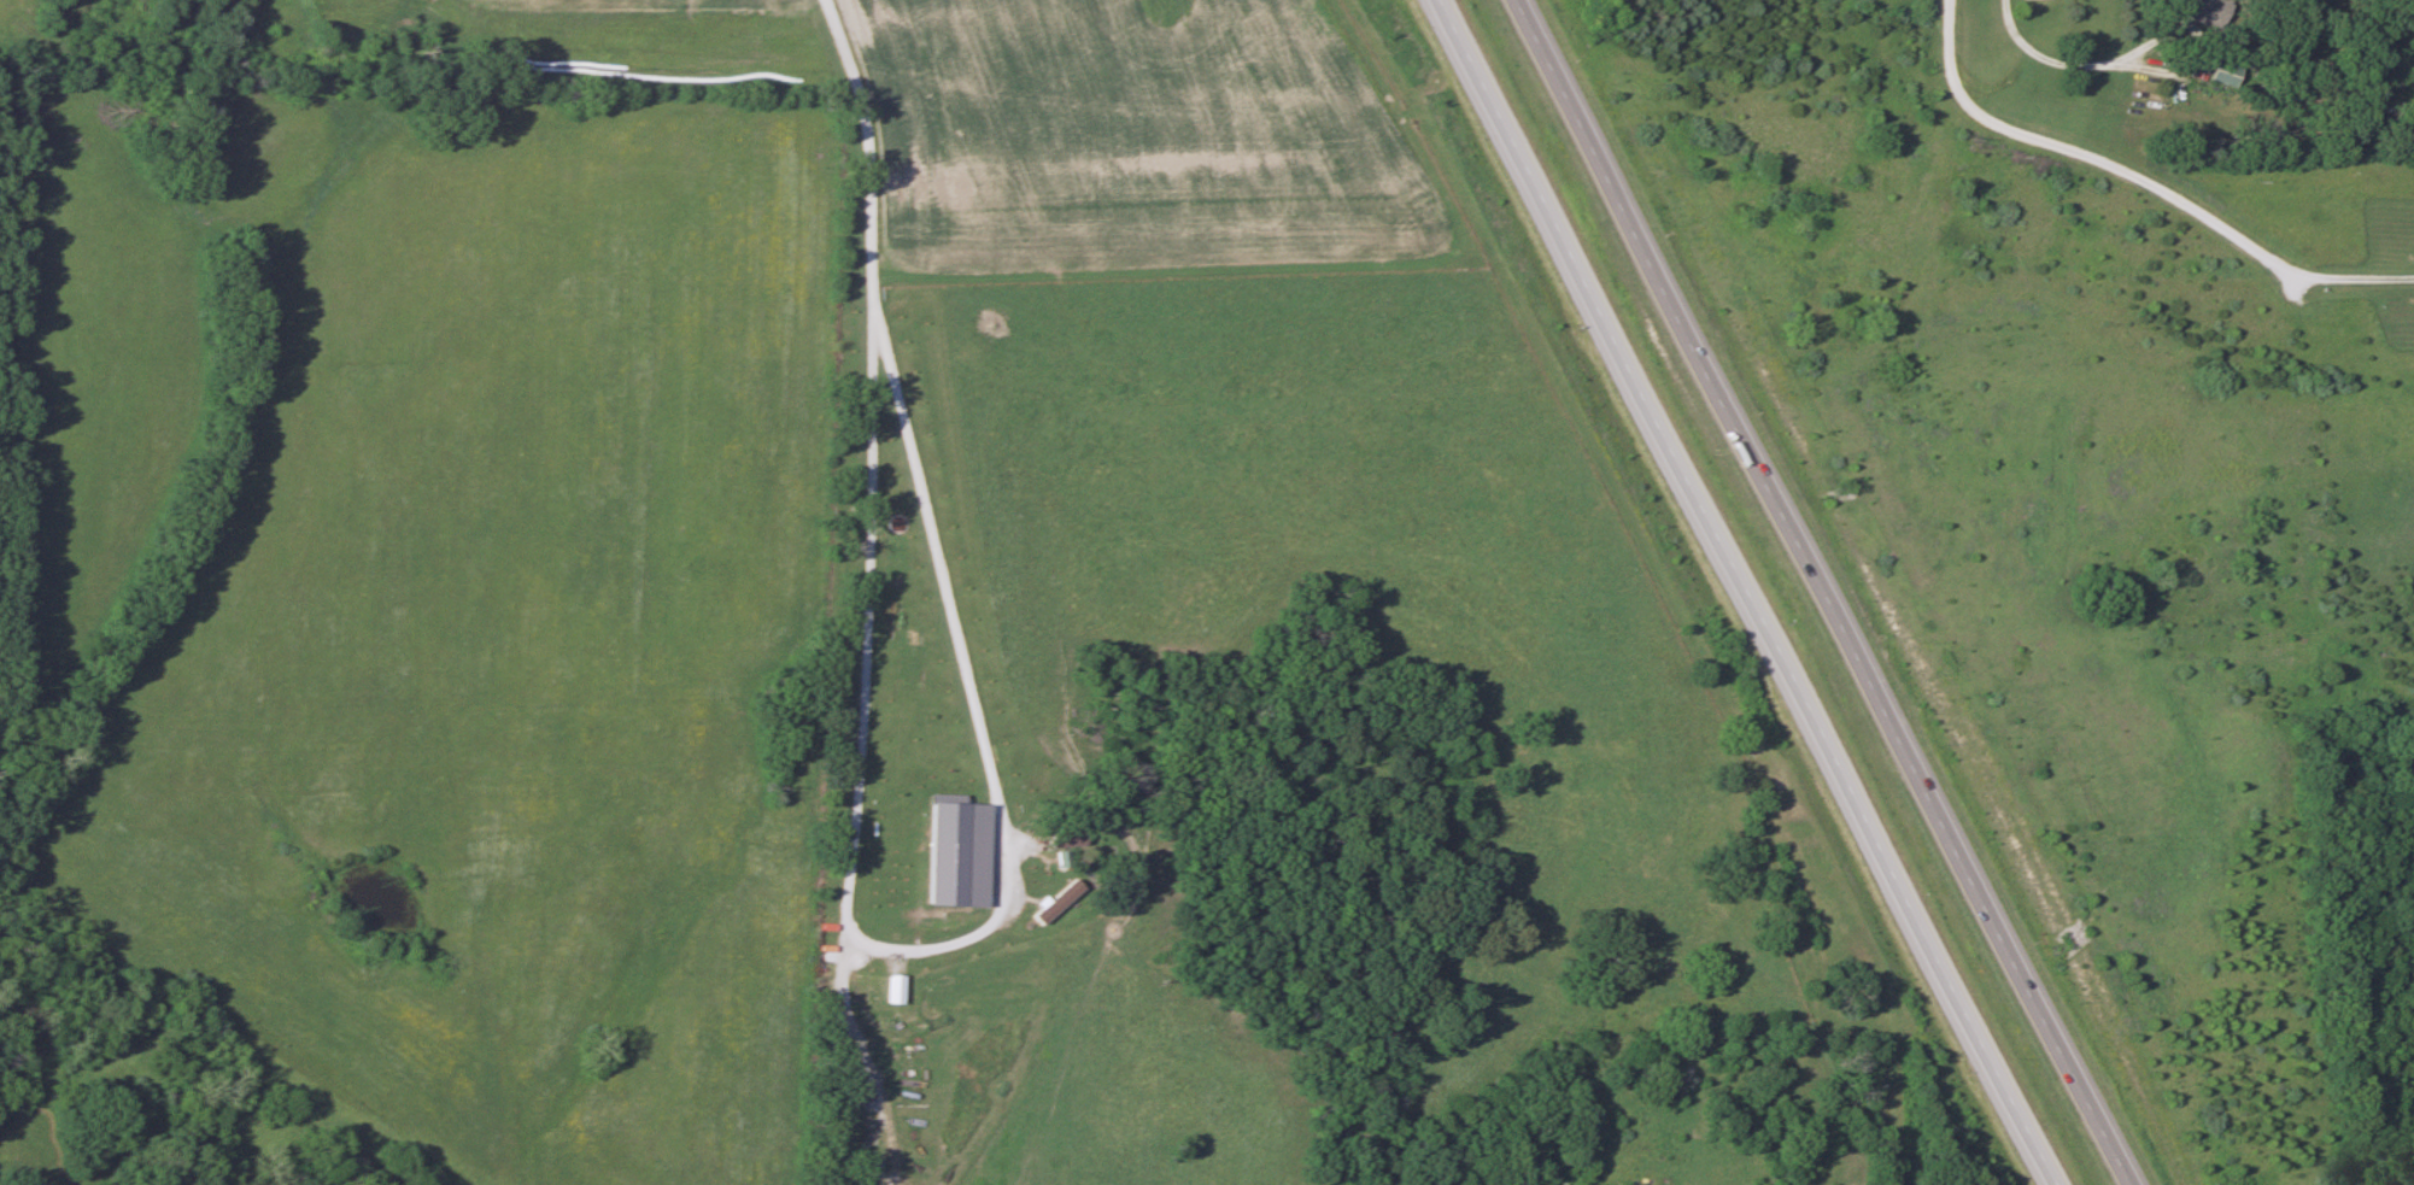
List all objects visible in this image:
building: (2191, 6)
road: (2199, 45)
road: (2031, 57)
road: (861, 152)
road: (2138, 182)
road: (1748, 592)
road: (1834, 592)
road: (924, 951)

